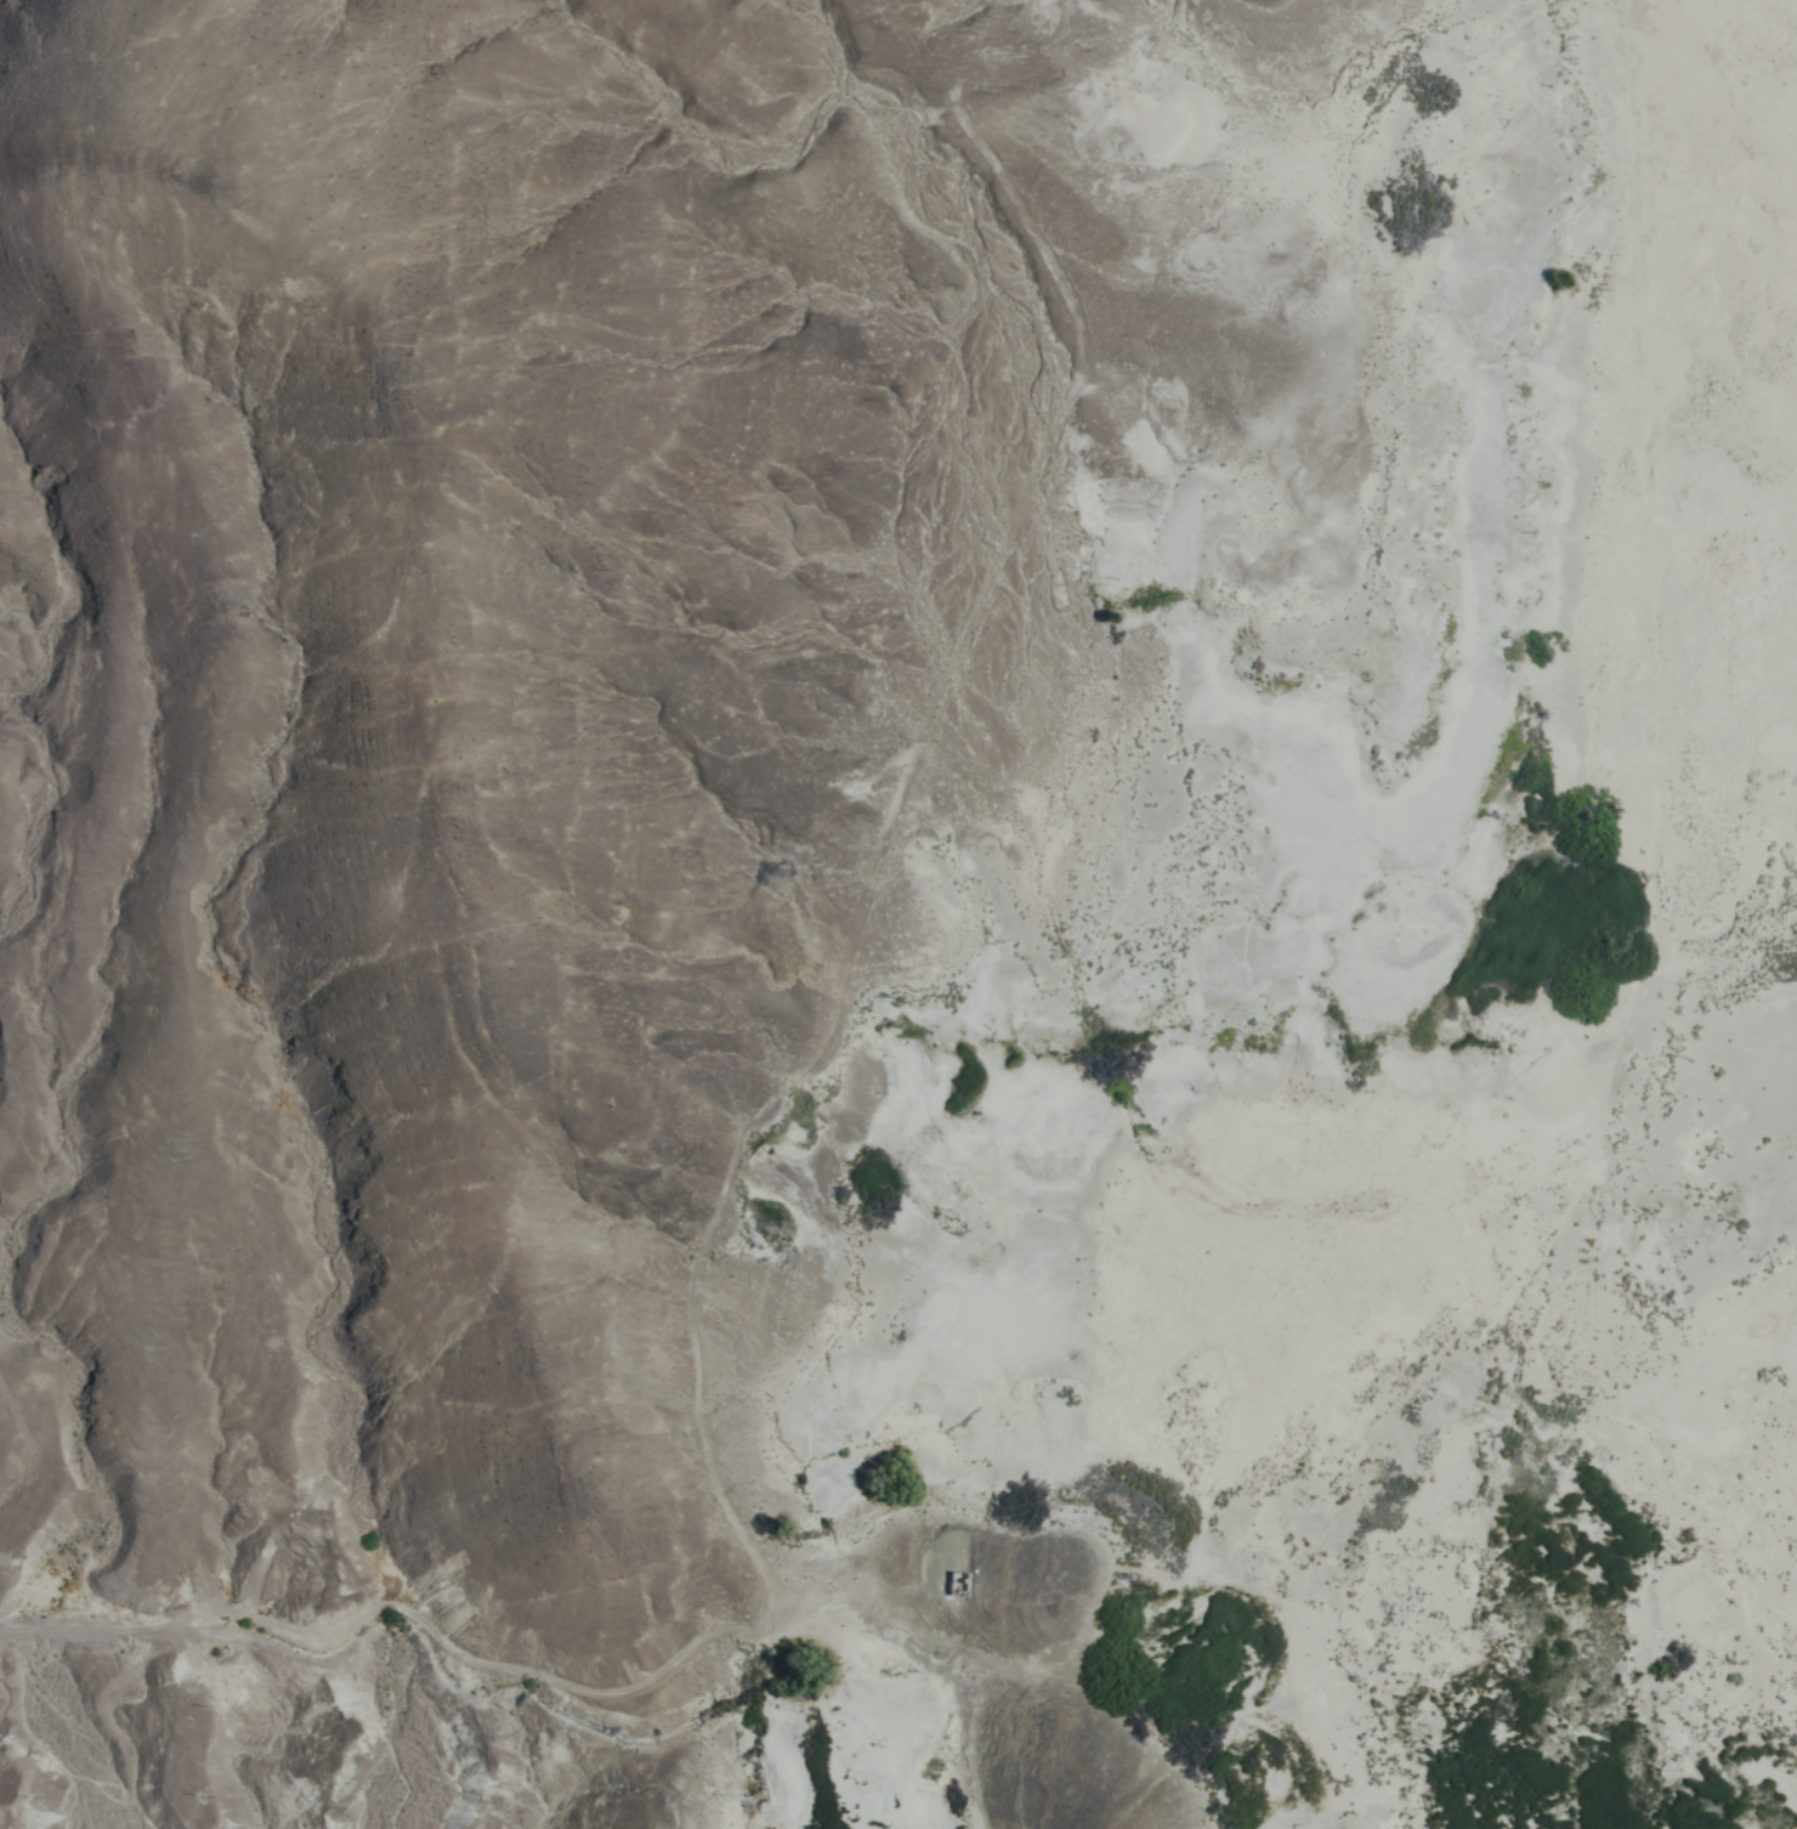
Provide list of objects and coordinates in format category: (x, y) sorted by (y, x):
road: (986, 576)
building: (958, 1582)
road: (673, 1659)

